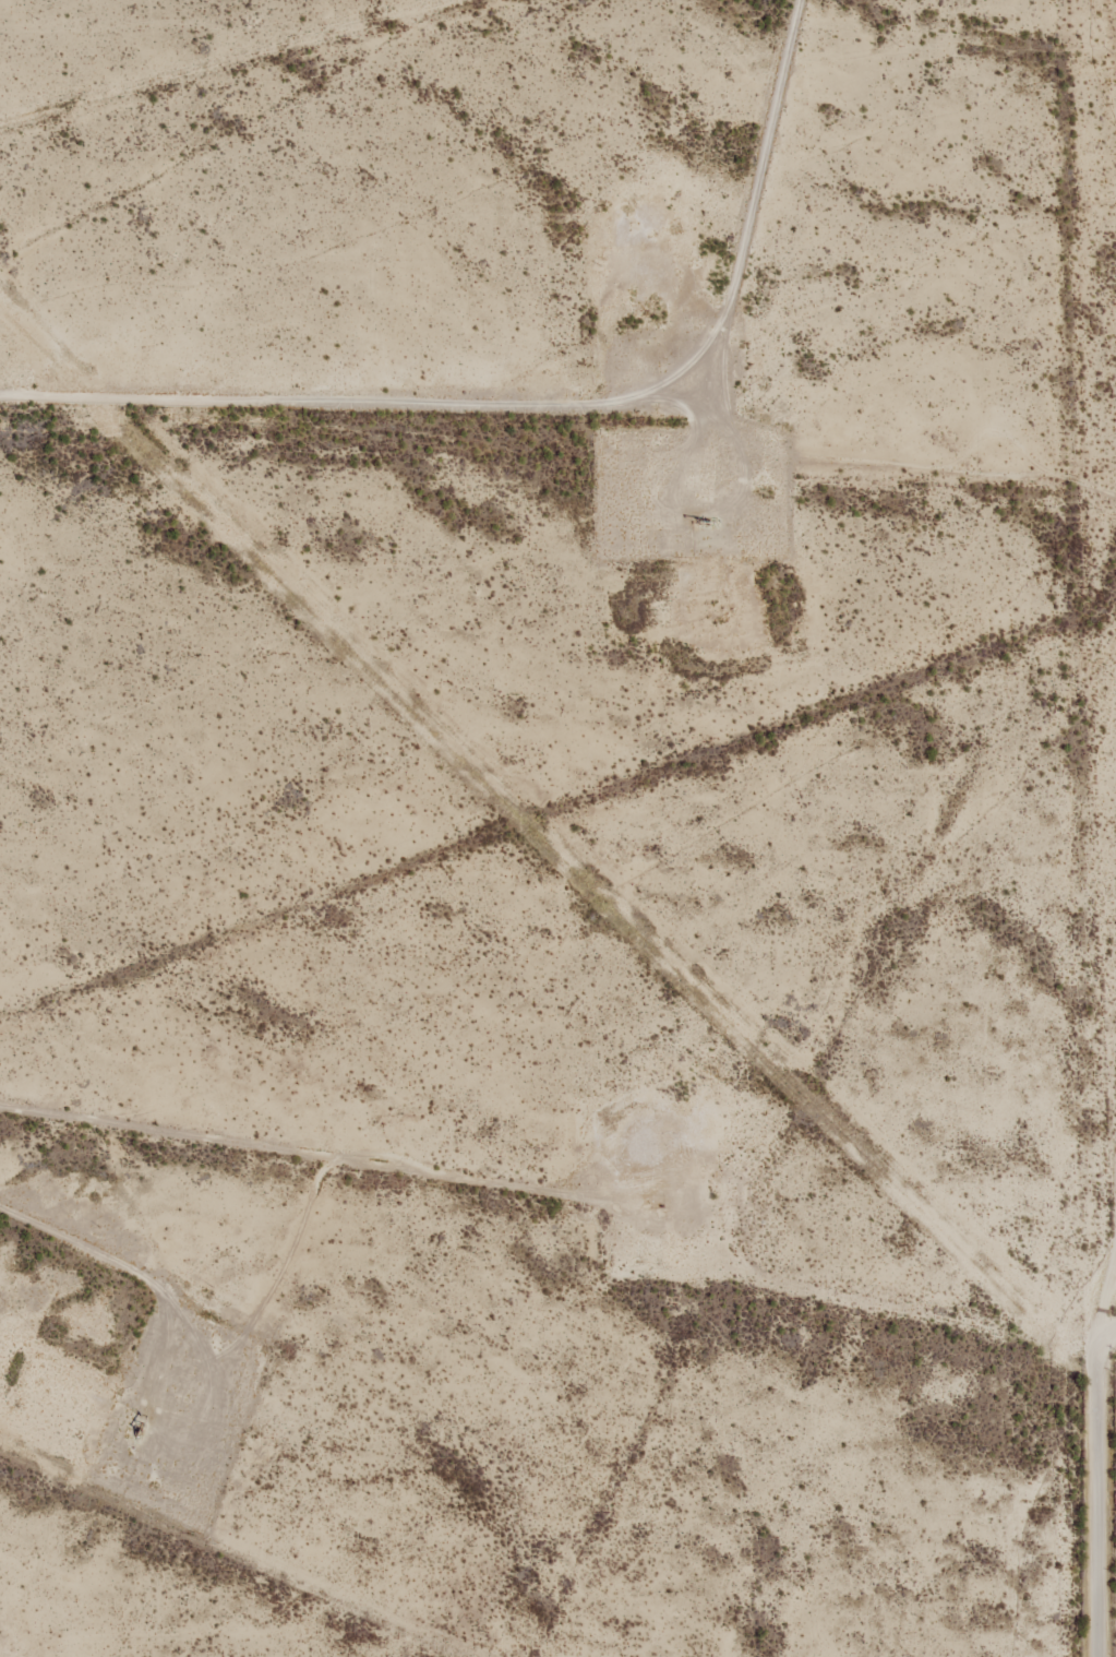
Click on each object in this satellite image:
road: (1099, 71)
road: (1107, 1121)
road: (1108, 1221)
road: (1096, 1439)

